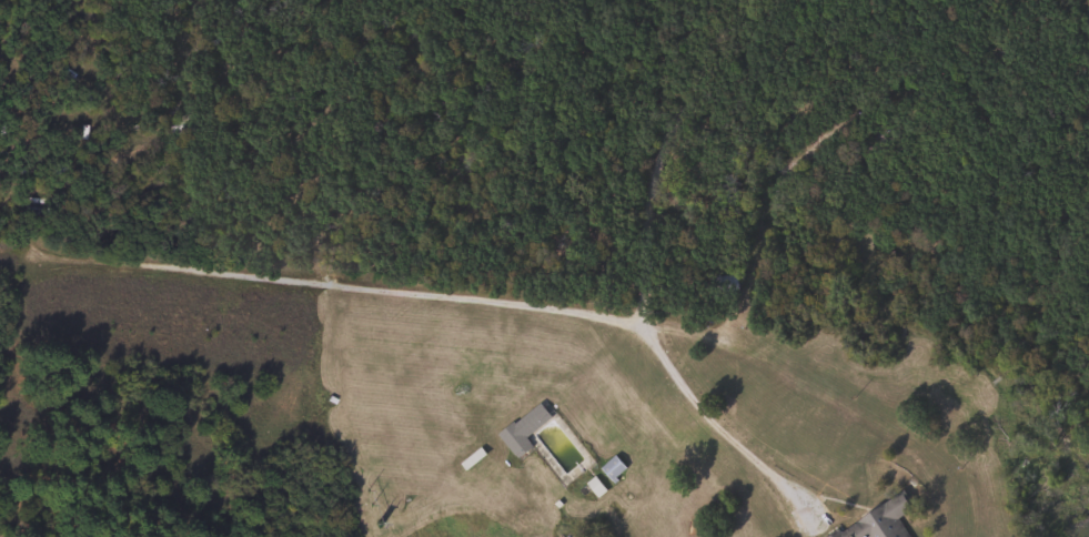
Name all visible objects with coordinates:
building: (180, 124)
road: (641, 281)
building: (720, 285)
building: (522, 429)
building: (877, 521)

